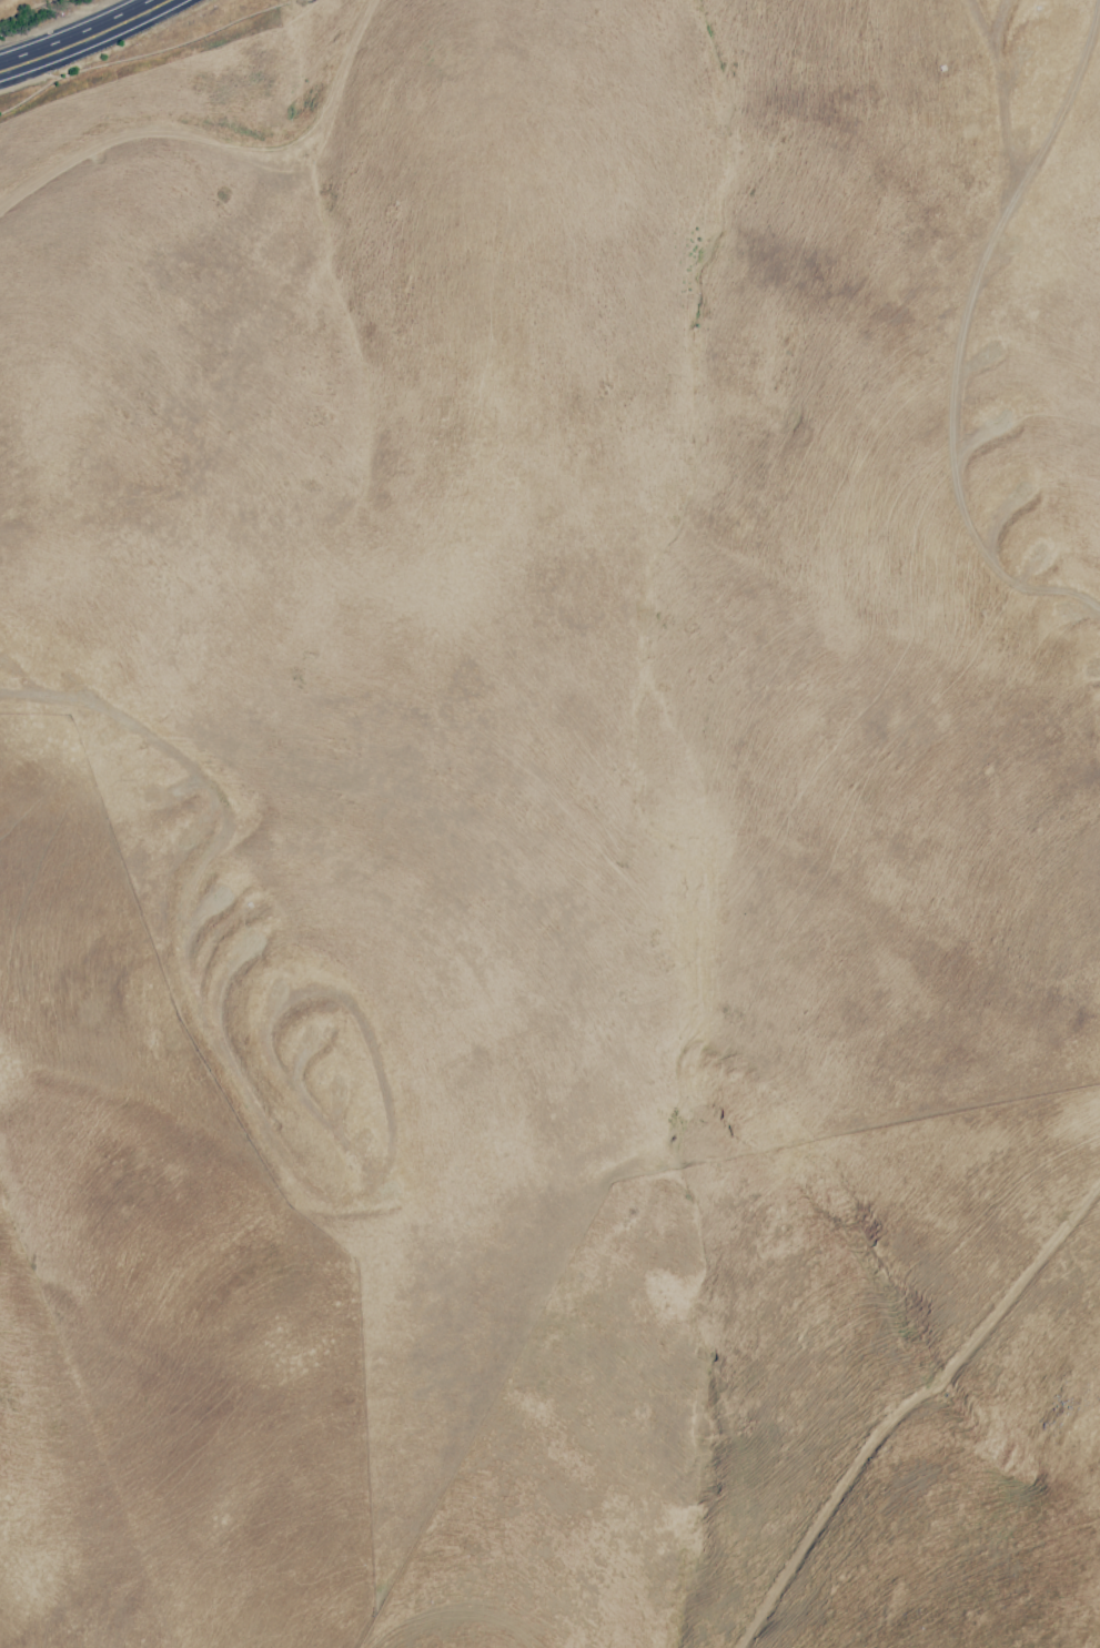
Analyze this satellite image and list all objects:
road: (102, 32)
road: (17, 64)
road: (219, 154)
road: (64, 711)

